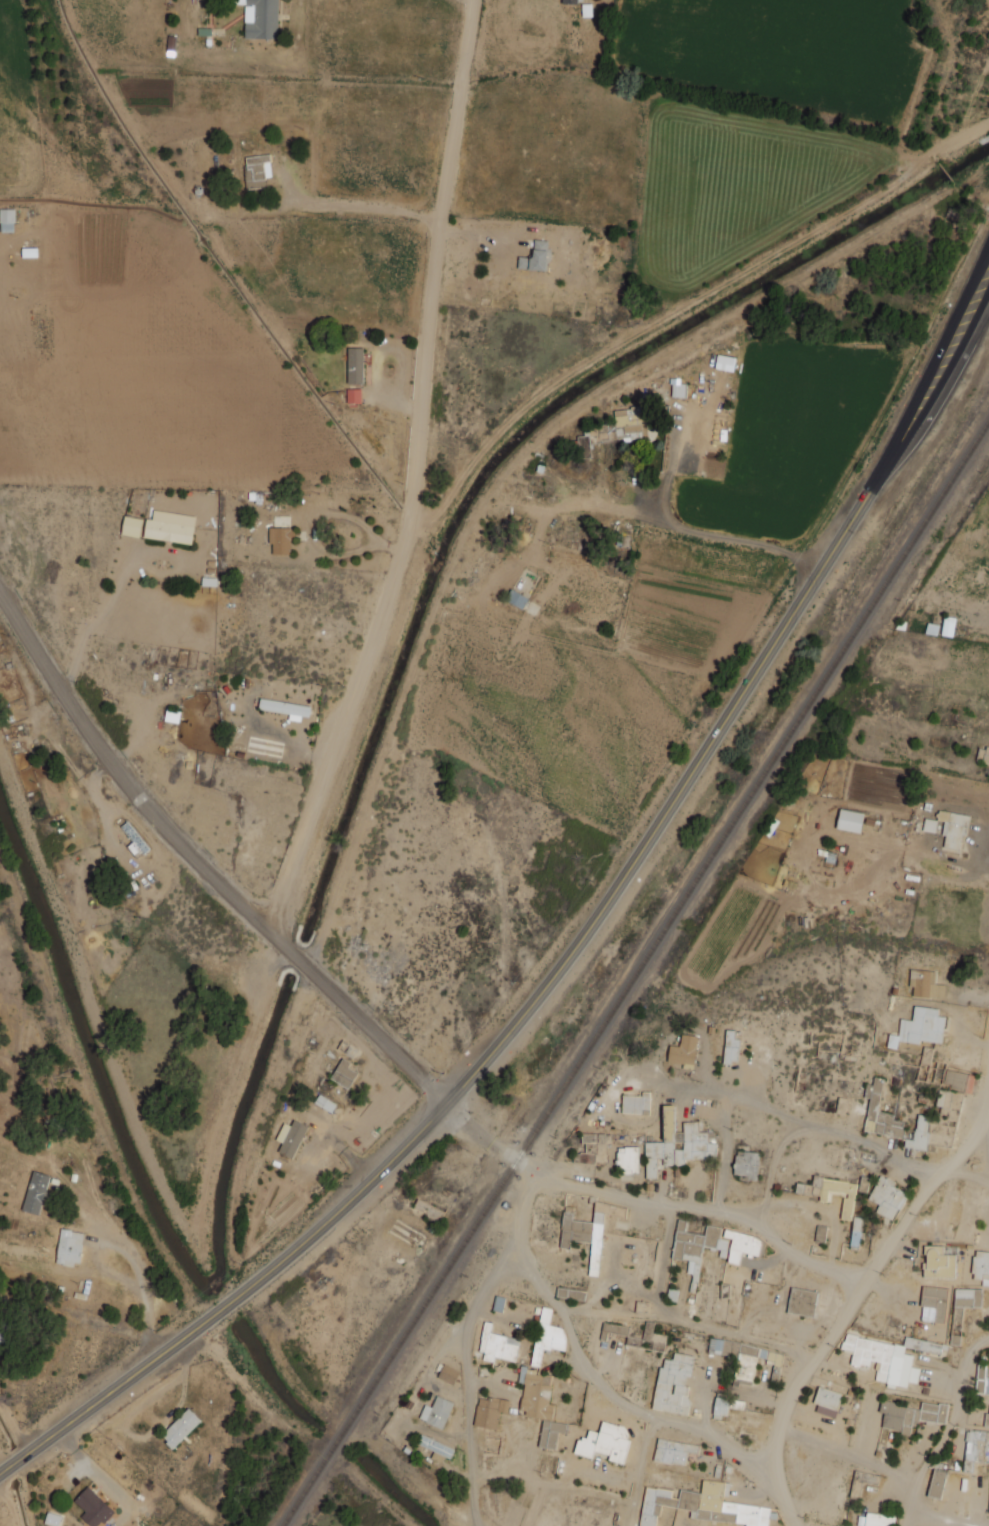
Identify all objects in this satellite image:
building: (569, 1)
building: (260, 18)
building: (257, 171)
building: (7, 220)
building: (535, 257)
building: (725, 362)
building: (355, 365)
building: (678, 389)
building: (353, 395)
road: (257, 404)
building: (583, 446)
road: (420, 477)
building: (131, 526)
building: (171, 529)
building: (280, 540)
building: (516, 598)
building: (948, 626)
road: (761, 662)
building: (284, 707)
road: (101, 742)
building: (983, 754)
building: (849, 820)
building: (929, 825)
building: (953, 827)
building: (134, 840)
railway: (635, 971)
building: (925, 983)
road: (366, 1020)
building: (919, 1027)
building: (730, 1047)
building: (684, 1051)
building: (343, 1073)
building: (959, 1080)
building: (943, 1097)
building: (635, 1102)
building: (325, 1103)
road: (784, 1113)
building: (892, 1120)
road: (986, 1130)
building: (290, 1138)
building: (677, 1144)
building: (586, 1151)
building: (628, 1160)
building: (746, 1164)
road: (961, 1174)
road: (374, 1176)
building: (863, 1184)
building: (35, 1192)
building: (831, 1192)
building: (886, 1197)
road: (695, 1206)
building: (428, 1209)
building: (856, 1231)
building: (820, 1233)
building: (584, 1236)
building: (696, 1244)
building: (741, 1245)
building: (68, 1247)
road: (120, 1249)
road: (133, 1255)
building: (938, 1262)
building: (981, 1266)
road: (663, 1269)
building: (86, 1286)
building: (570, 1293)
building: (79, 1295)
building: (967, 1297)
building: (811, 1302)
building: (498, 1303)
road: (851, 1304)
building: (933, 1304)
road: (688, 1325)
building: (956, 1325)
building: (613, 1329)
building: (547, 1336)
building: (653, 1337)
building: (632, 1342)
building: (921, 1344)
building: (498, 1345)
building: (745, 1358)
building: (882, 1359)
road: (587, 1369)
building: (448, 1374)
road: (465, 1379)
road: (115, 1383)
building: (673, 1383)
building: (982, 1384)
building: (535, 1394)
building: (827, 1402)
building: (726, 1406)
building: (489, 1411)
building: (436, 1412)
building: (910, 1415)
building: (986, 1419)
road: (969, 1424)
building: (180, 1428)
road: (946, 1429)
building: (551, 1433)
building: (604, 1441)
building: (436, 1448)
building: (673, 1451)
road: (851, 1455)
road: (641, 1471)
road: (549, 1479)
building: (937, 1483)
building: (702, 1505)
building: (93, 1507)
building: (53, 1518)
building: (878, 1519)
road: (941, 1520)

